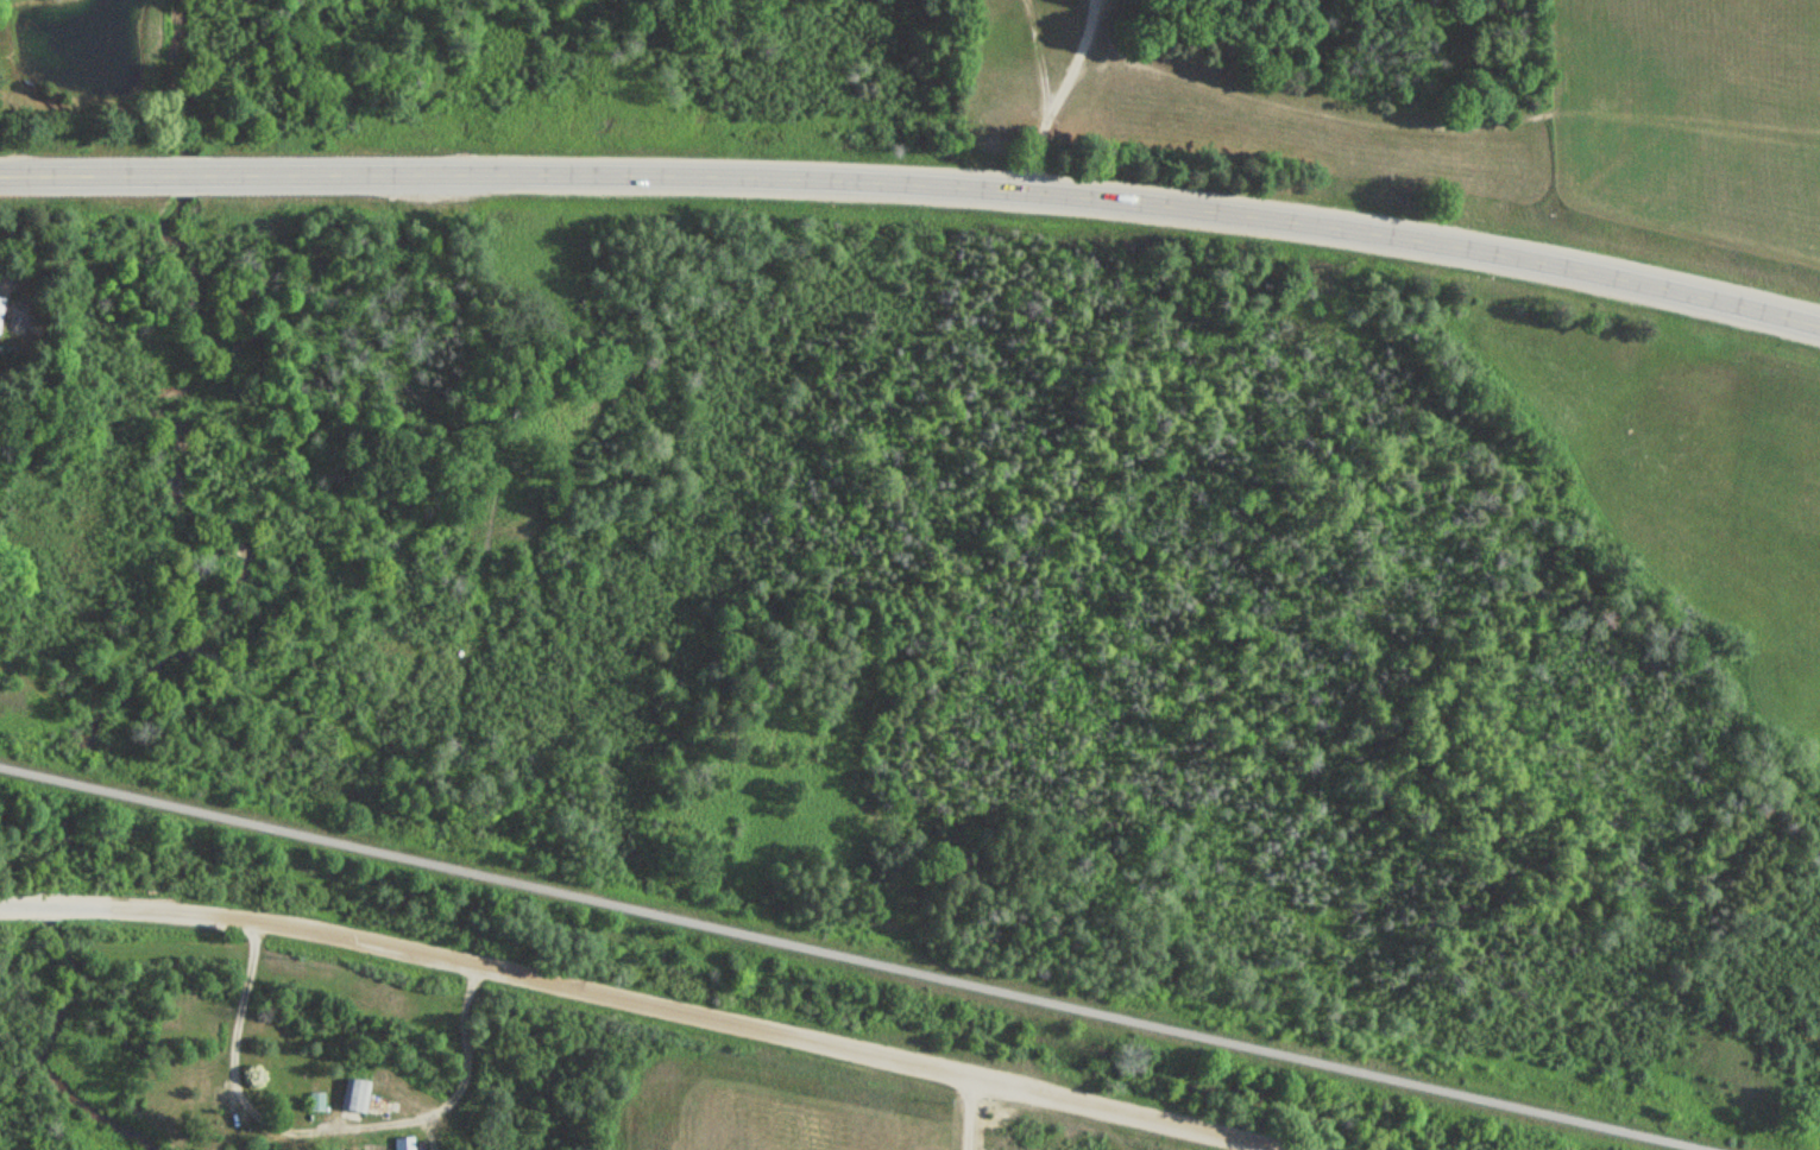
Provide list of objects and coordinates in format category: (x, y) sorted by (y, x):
road: (915, 185)
road: (845, 961)
road: (638, 1010)
building: (354, 1098)
building: (311, 1101)
building: (405, 1143)

